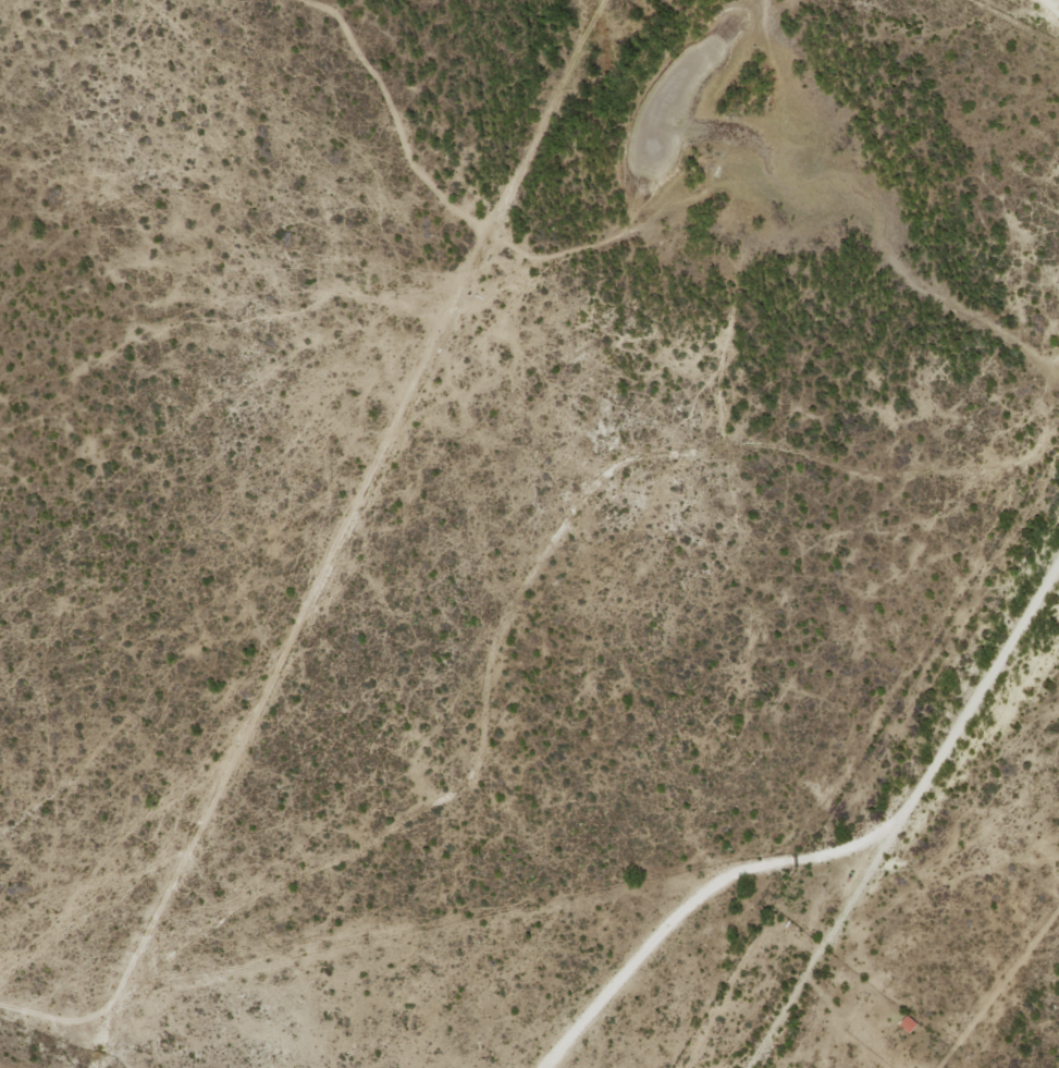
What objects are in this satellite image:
road: (1050, 7)
road: (342, 532)
railway: (920, 845)
road: (830, 849)

